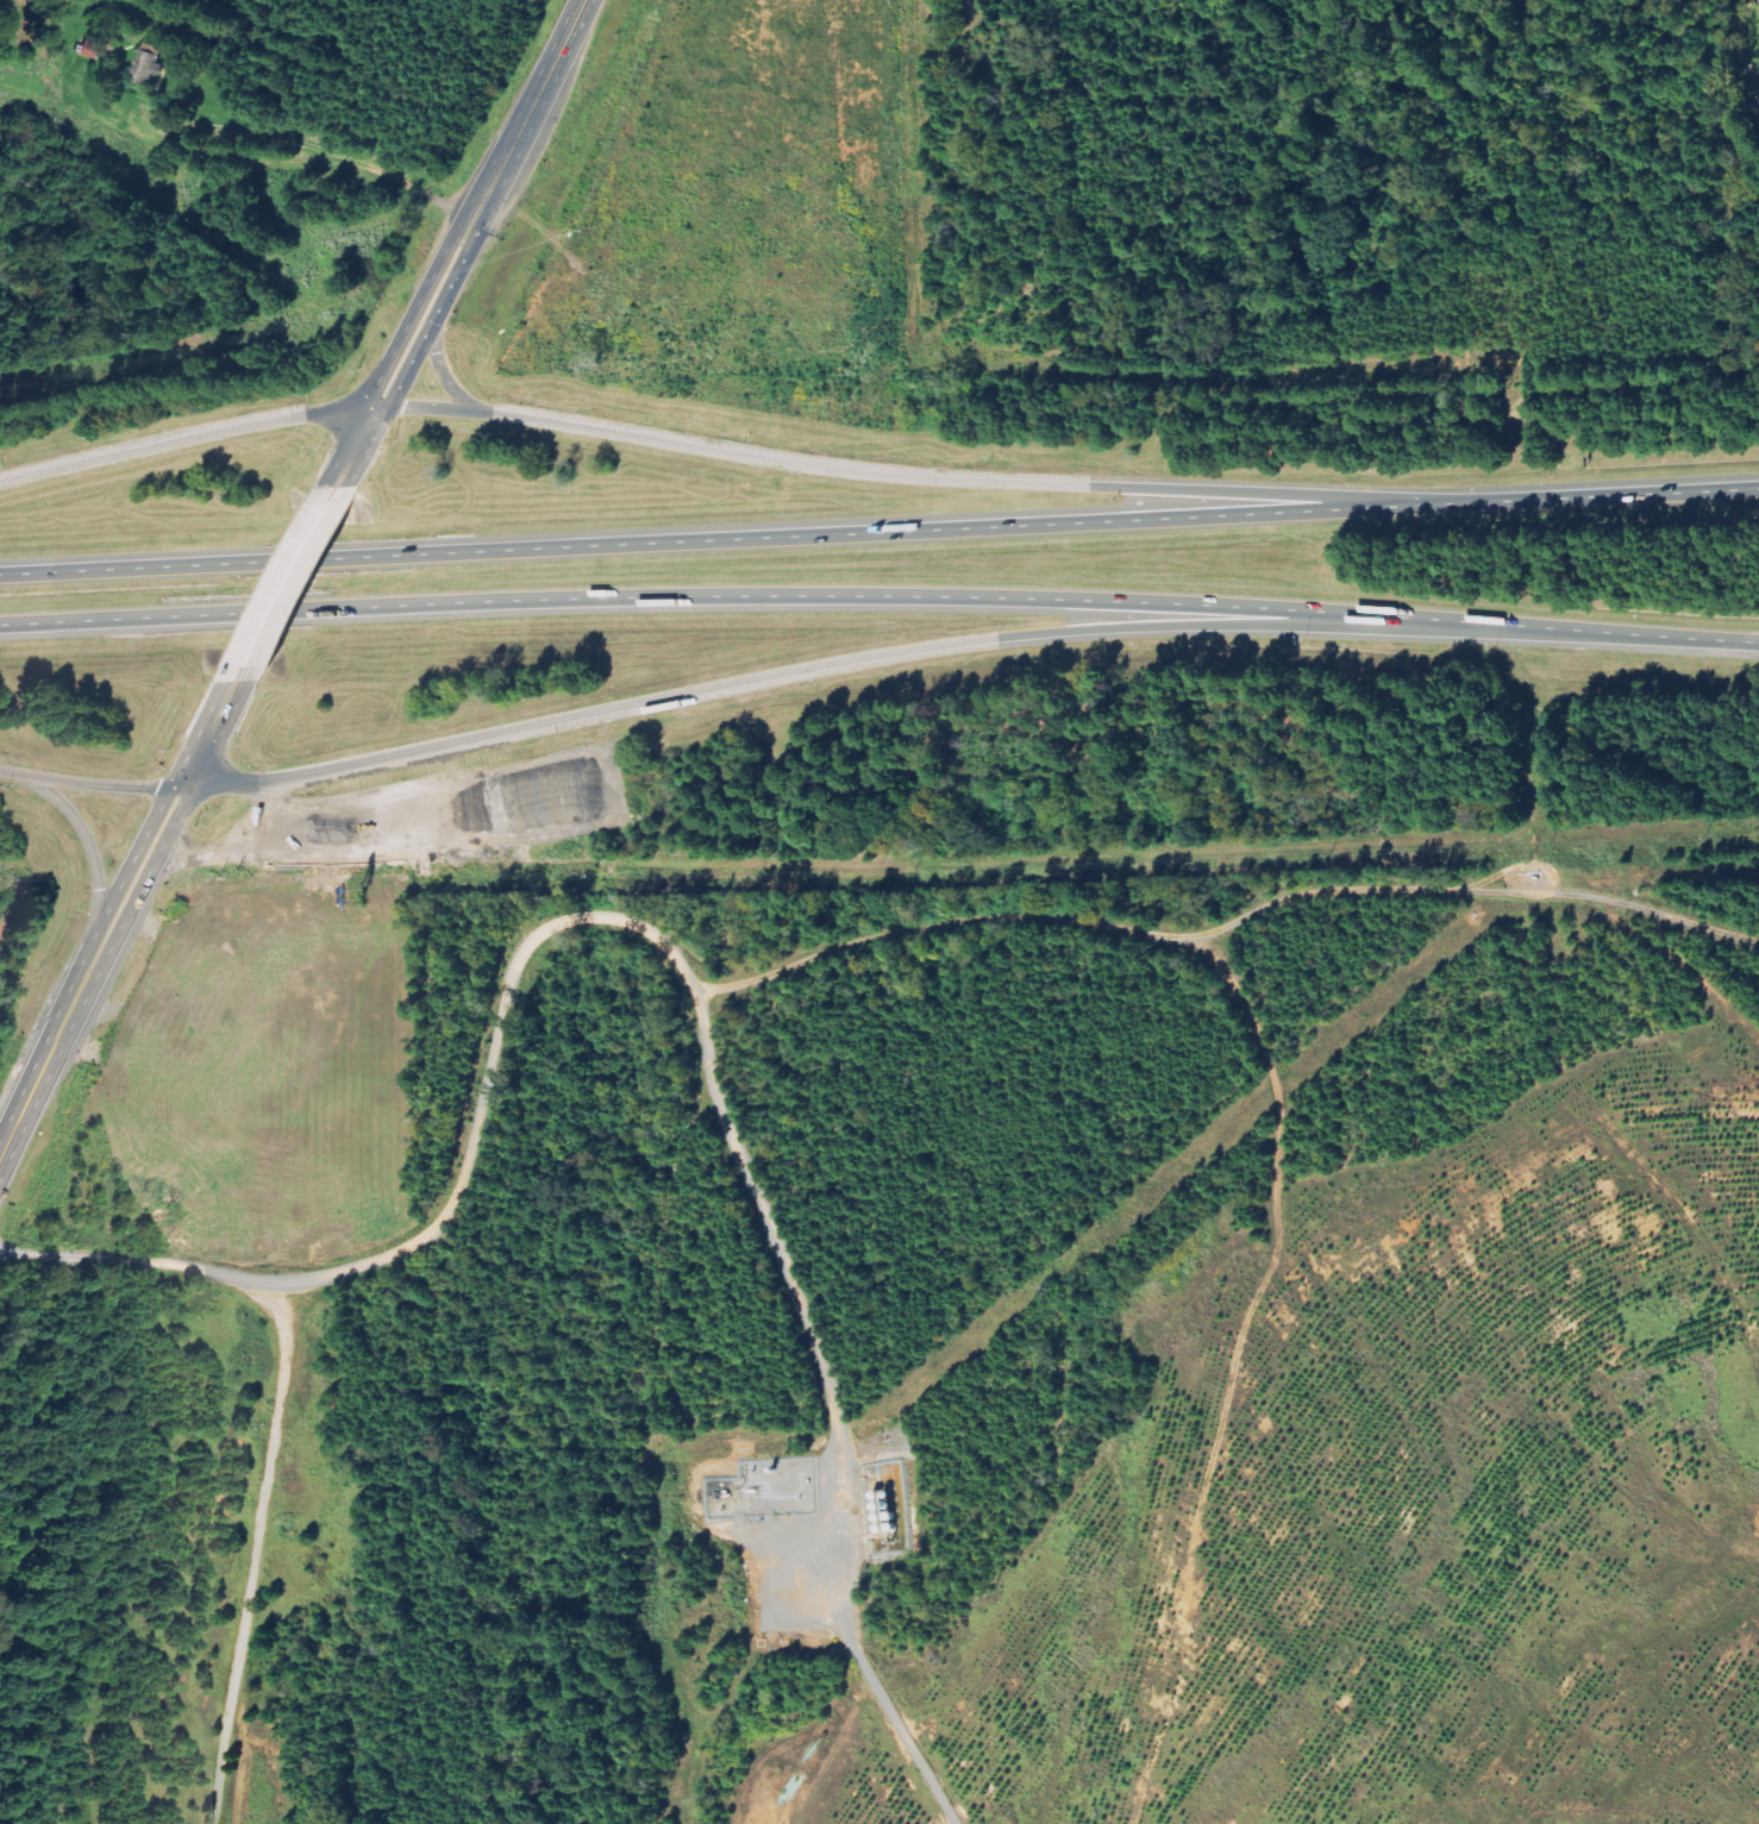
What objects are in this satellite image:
building: (88, 49)
building: (148, 64)
road: (237, 170)
road: (458, 250)
road: (439, 363)
road: (428, 406)
road: (187, 439)
road: (982, 482)
road: (880, 531)
road: (283, 589)
road: (733, 595)
road: (1611, 631)
road: (819, 663)
road: (11, 773)
road: (101, 784)
road: (90, 848)
road: (117, 916)

